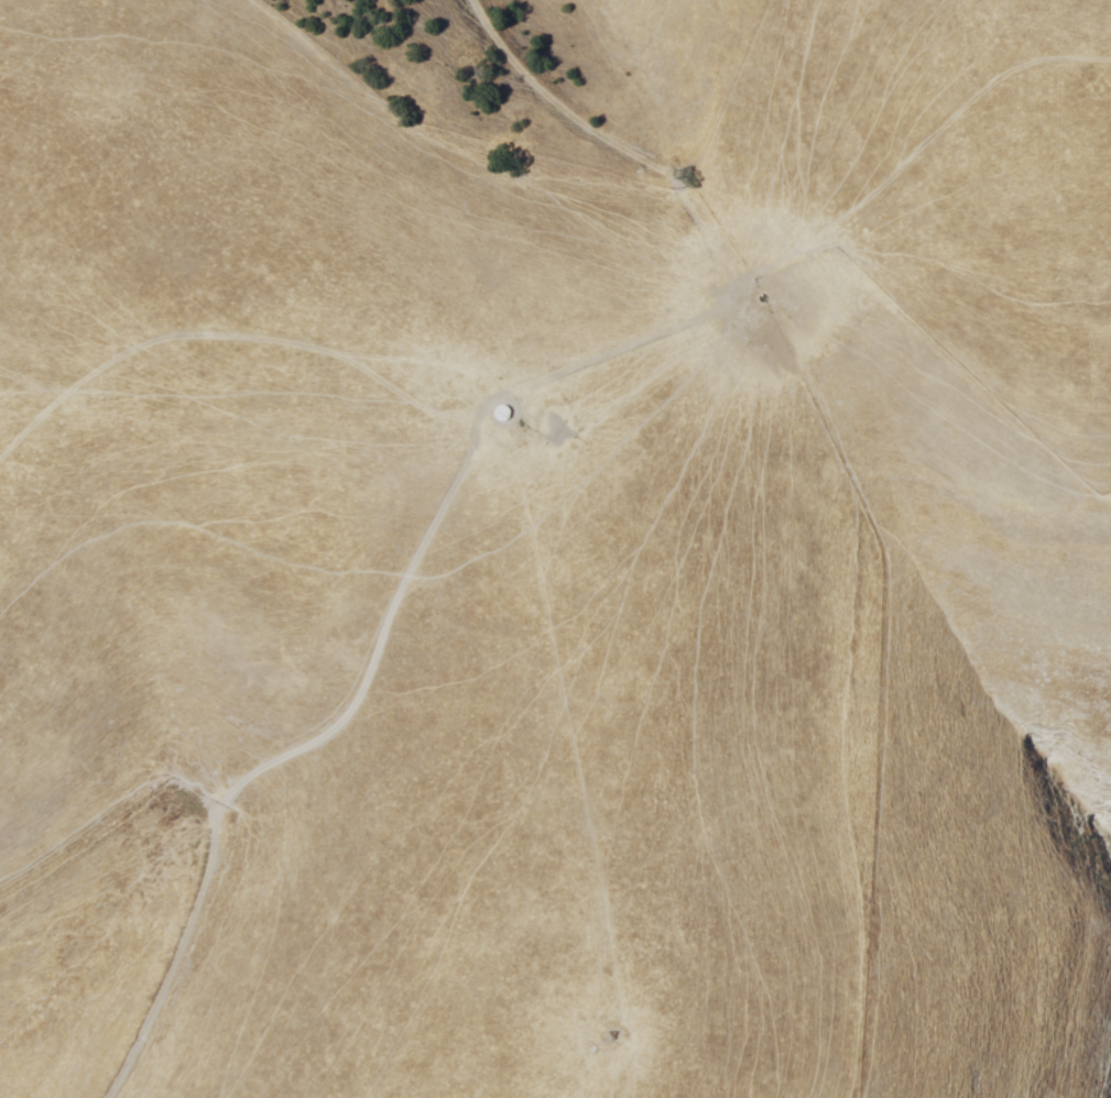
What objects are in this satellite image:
road: (722, 128)
road: (219, 869)
building: (589, 1047)
storage tank: (589, 1047)

